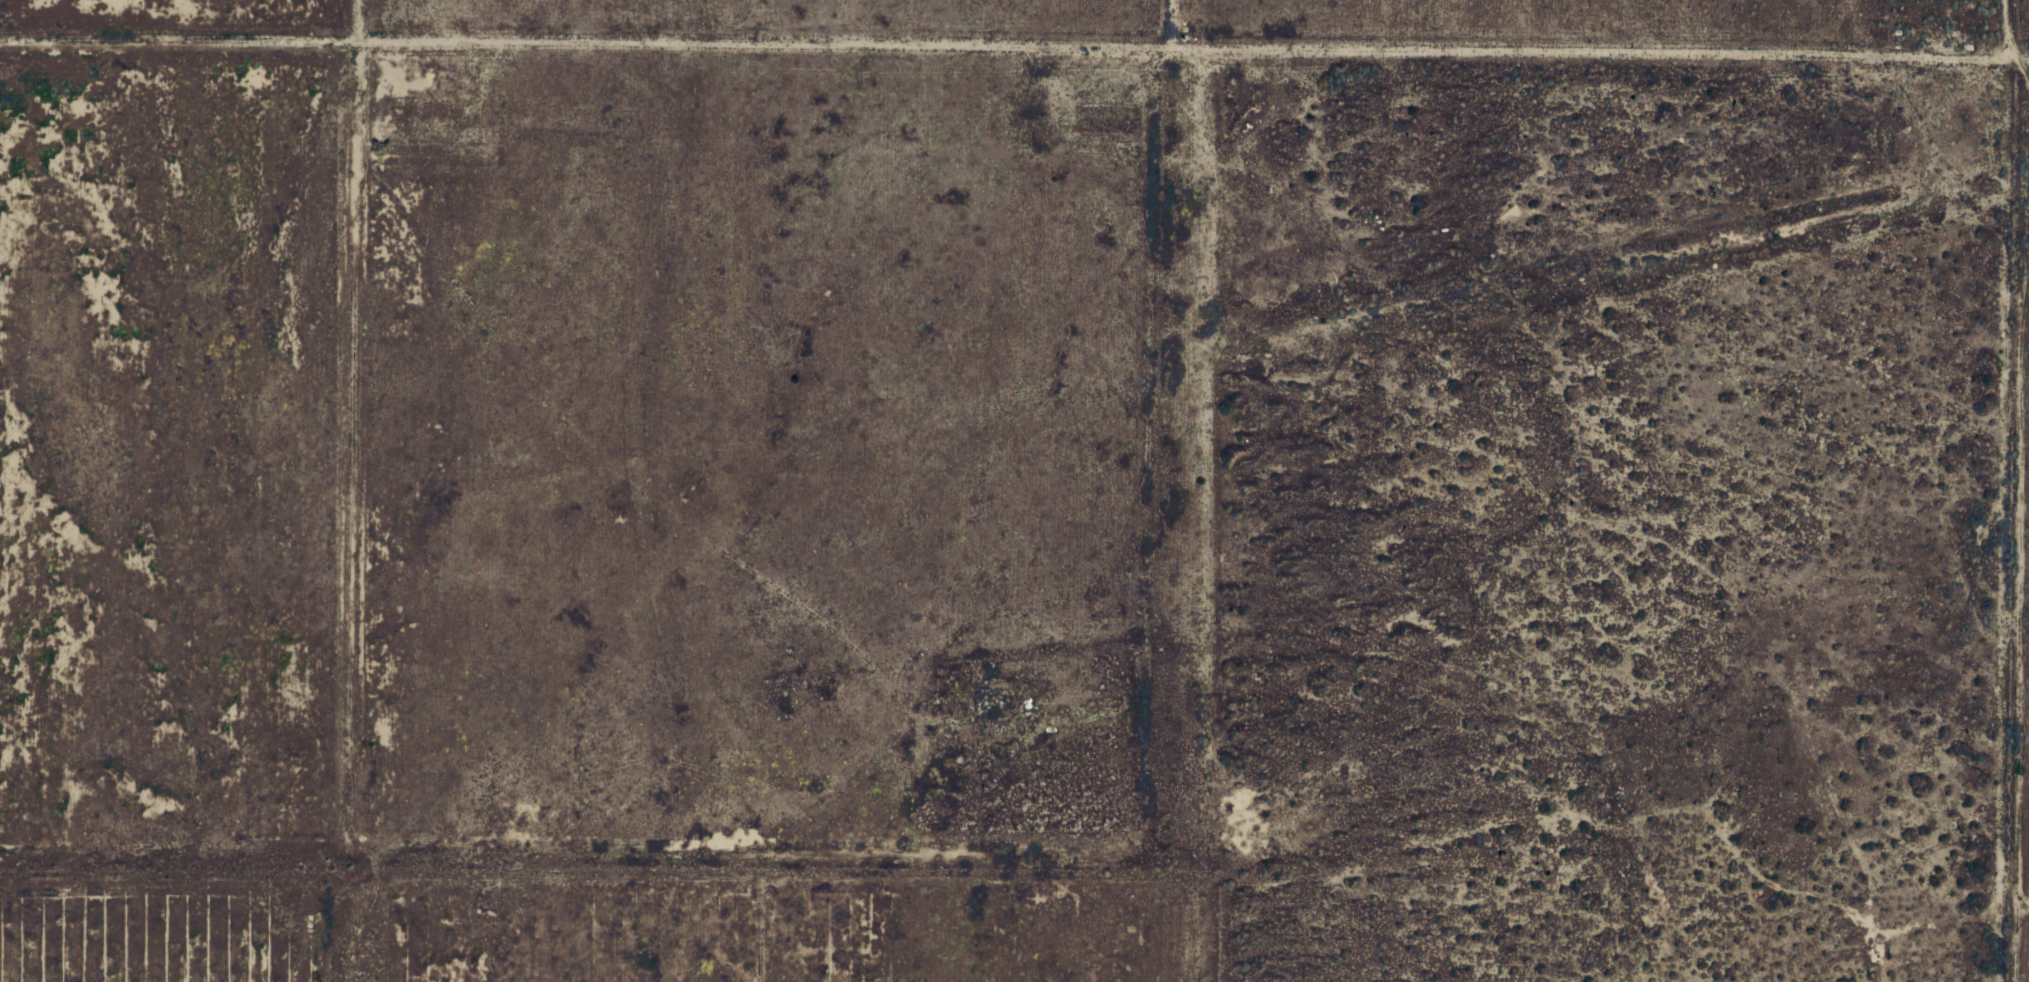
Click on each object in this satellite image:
road: (2027, 20)
road: (259, 450)
road: (2023, 490)

